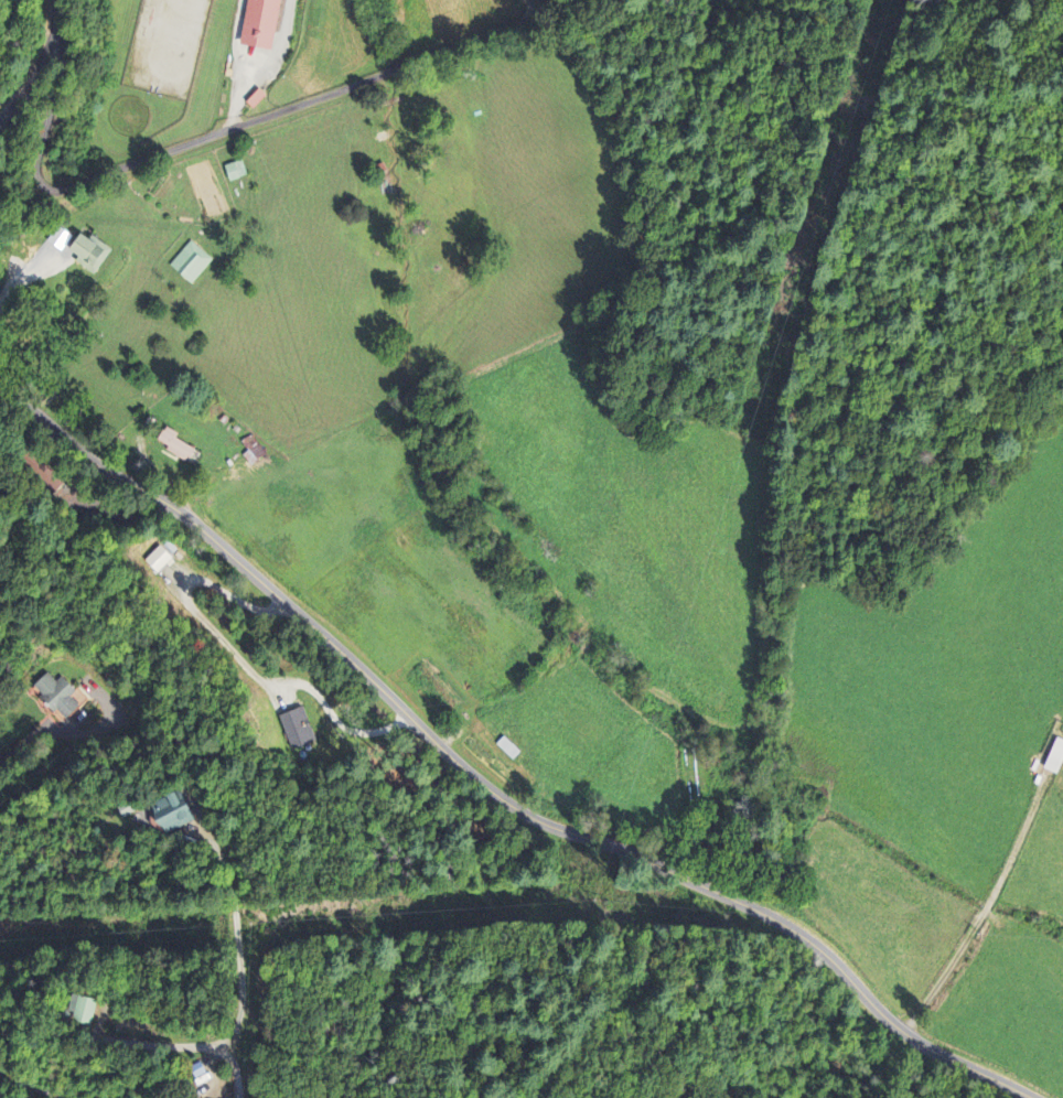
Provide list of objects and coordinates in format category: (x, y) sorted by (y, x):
building: (260, 25)
road: (41, 66)
road: (223, 130)
building: (232, 174)
building: (89, 256)
building: (191, 265)
building: (175, 446)
building: (158, 561)
building: (56, 698)
building: (293, 728)
building: (1055, 758)
road: (490, 790)
building: (173, 814)
building: (80, 1011)
road: (137, 1043)
road: (29, 1086)

